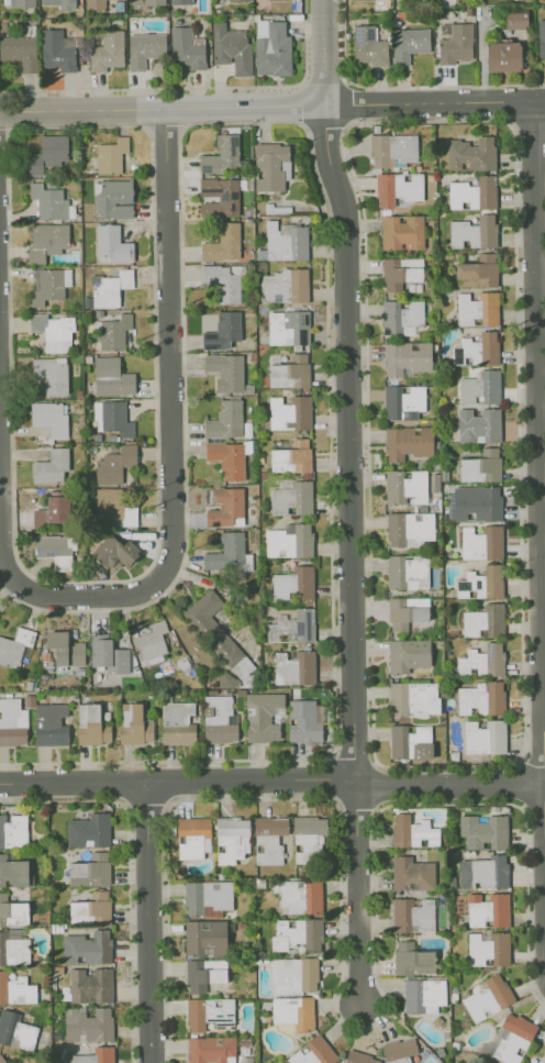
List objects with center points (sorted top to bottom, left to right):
building: (238, 0)
building: (512, 0)
building: (180, 1)
building: (154, 2)
building: (23, 3)
building: (59, 3)
building: (94, 4)
building: (516, 19)
building: (541, 37)
building: (408, 44)
building: (456, 44)
building: (368, 46)
building: (187, 47)
building: (231, 47)
building: (271, 47)
building: (58, 48)
building: (144, 48)
building: (107, 51)
building: (19, 52)
building: (503, 56)
road: (404, 86)
road: (192, 87)
road: (433, 101)
road: (160, 110)
building: (392, 150)
building: (47, 153)
building: (222, 154)
building: (470, 154)
building: (111, 155)
building: (271, 167)
building: (397, 188)
building: (474, 195)
building: (220, 196)
building: (113, 199)
building: (402, 232)
building: (474, 232)
building: (47, 240)
building: (286, 242)
building: (112, 244)
building: (223, 244)
building: (401, 274)
building: (476, 274)
road: (541, 276)
building: (222, 281)
building: (48, 284)
building: (285, 286)
building: (110, 288)
building: (477, 308)
building: (401, 315)
building: (288, 329)
road: (173, 330)
building: (223, 330)
building: (113, 331)
building: (53, 332)
building: (480, 347)
building: (407, 356)
building: (225, 370)
building: (290, 372)
building: (51, 374)
building: (111, 377)
road: (345, 387)
building: (479, 387)
building: (403, 400)
building: (289, 412)
building: (111, 417)
building: (49, 418)
building: (225, 420)
building: (478, 424)
building: (408, 442)
building: (291, 457)
building: (226, 458)
building: (51, 466)
building: (480, 466)
building: (405, 487)
road: (543, 488)
road: (542, 489)
building: (291, 498)
building: (476, 502)
building: (114, 506)
building: (226, 507)
building: (55, 508)
building: (409, 528)
building: (289, 540)
building: (481, 542)
building: (55, 550)
building: (115, 551)
building: (407, 572)
building: (294, 583)
building: (480, 583)
road: (18, 584)
building: (407, 611)
building: (483, 621)
building: (292, 627)
building: (218, 633)
building: (151, 642)
building: (14, 646)
building: (65, 649)
building: (107, 653)
building: (408, 654)
building: (482, 661)
building: (293, 667)
building: (414, 696)
building: (481, 699)
building: (263, 716)
building: (219, 719)
building: (305, 721)
building: (12, 722)
building: (177, 722)
building: (51, 724)
building: (91, 724)
building: (134, 724)
building: (485, 737)
building: (410, 741)
road: (248, 780)
road: (73, 783)
road: (448, 785)
building: (13, 830)
building: (88, 830)
building: (413, 832)
building: (486, 832)
building: (193, 837)
building: (231, 839)
building: (309, 839)
building: (270, 840)
building: (90, 870)
building: (13, 872)
building: (486, 872)
building: (412, 874)
road: (355, 890)
building: (207, 896)
building: (302, 897)
building: (91, 906)
building: (489, 910)
building: (12, 911)
building: (413, 916)
road: (147, 922)
building: (298, 935)
building: (204, 938)
building: (89, 945)
building: (13, 946)
building: (490, 950)
building: (413, 960)
building: (203, 974)
building: (294, 975)
building: (91, 985)
building: (15, 989)
building: (424, 995)
building: (489, 999)
road: (331, 1005)
building: (208, 1012)
building: (296, 1012)
building: (87, 1023)
building: (15, 1030)
building: (515, 1039)
building: (211, 1049)
building: (400, 1051)
building: (314, 1053)
building: (96, 1055)
building: (360, 1059)
building: (1, 1060)

